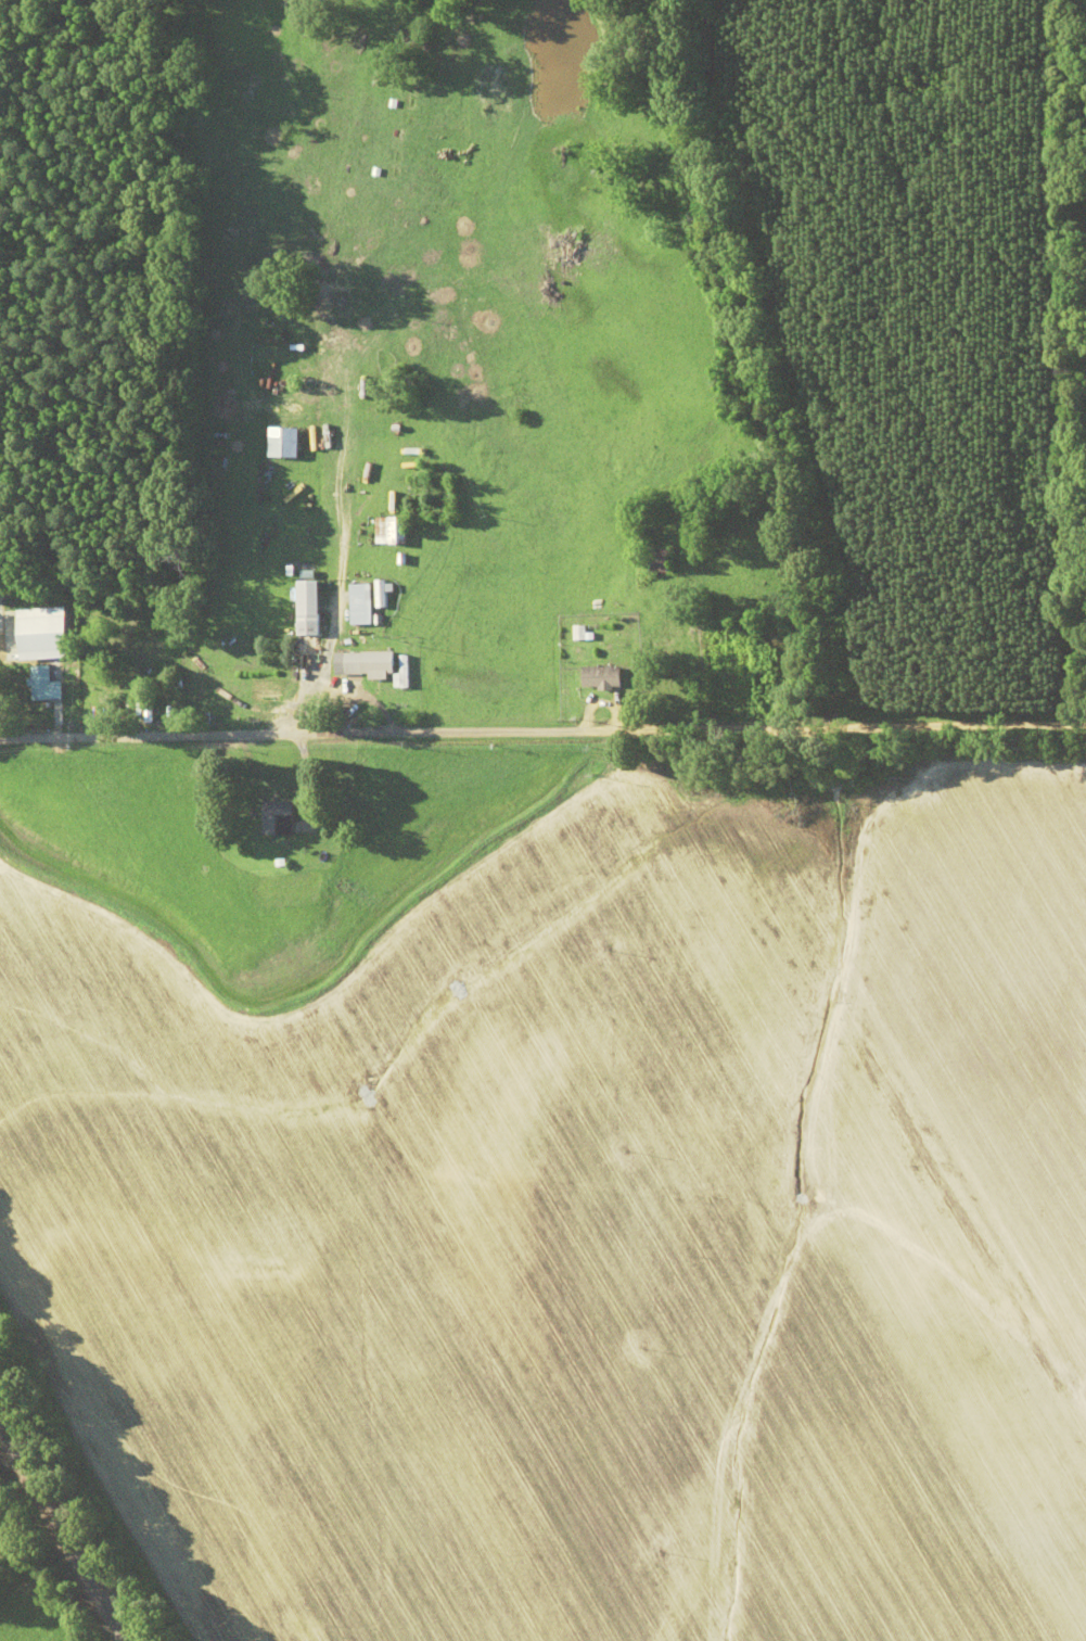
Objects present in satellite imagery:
building: (288, 442)
building: (395, 530)
building: (665, 561)
building: (383, 594)
building: (365, 603)
building: (311, 608)
building: (586, 634)
building: (367, 664)
building: (606, 677)
building: (44, 684)
road: (542, 740)
building: (281, 817)
railway: (60, 1538)

